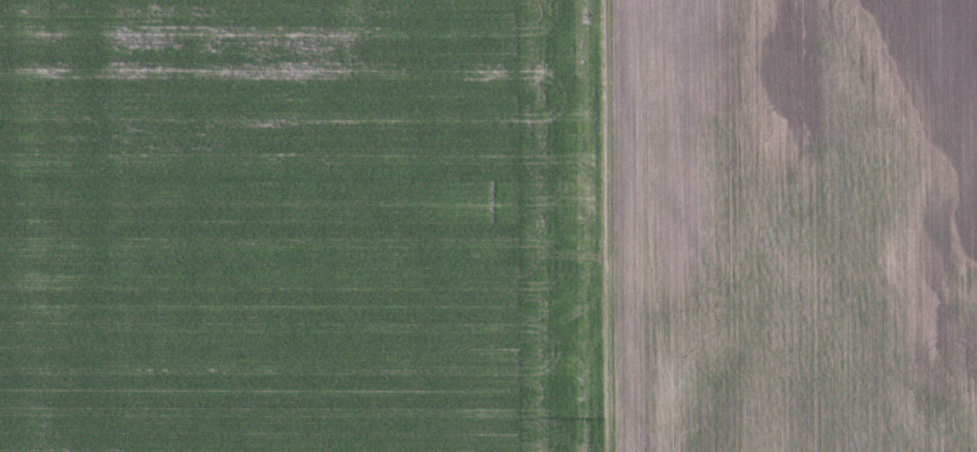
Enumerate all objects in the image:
crop: (488, 226)

